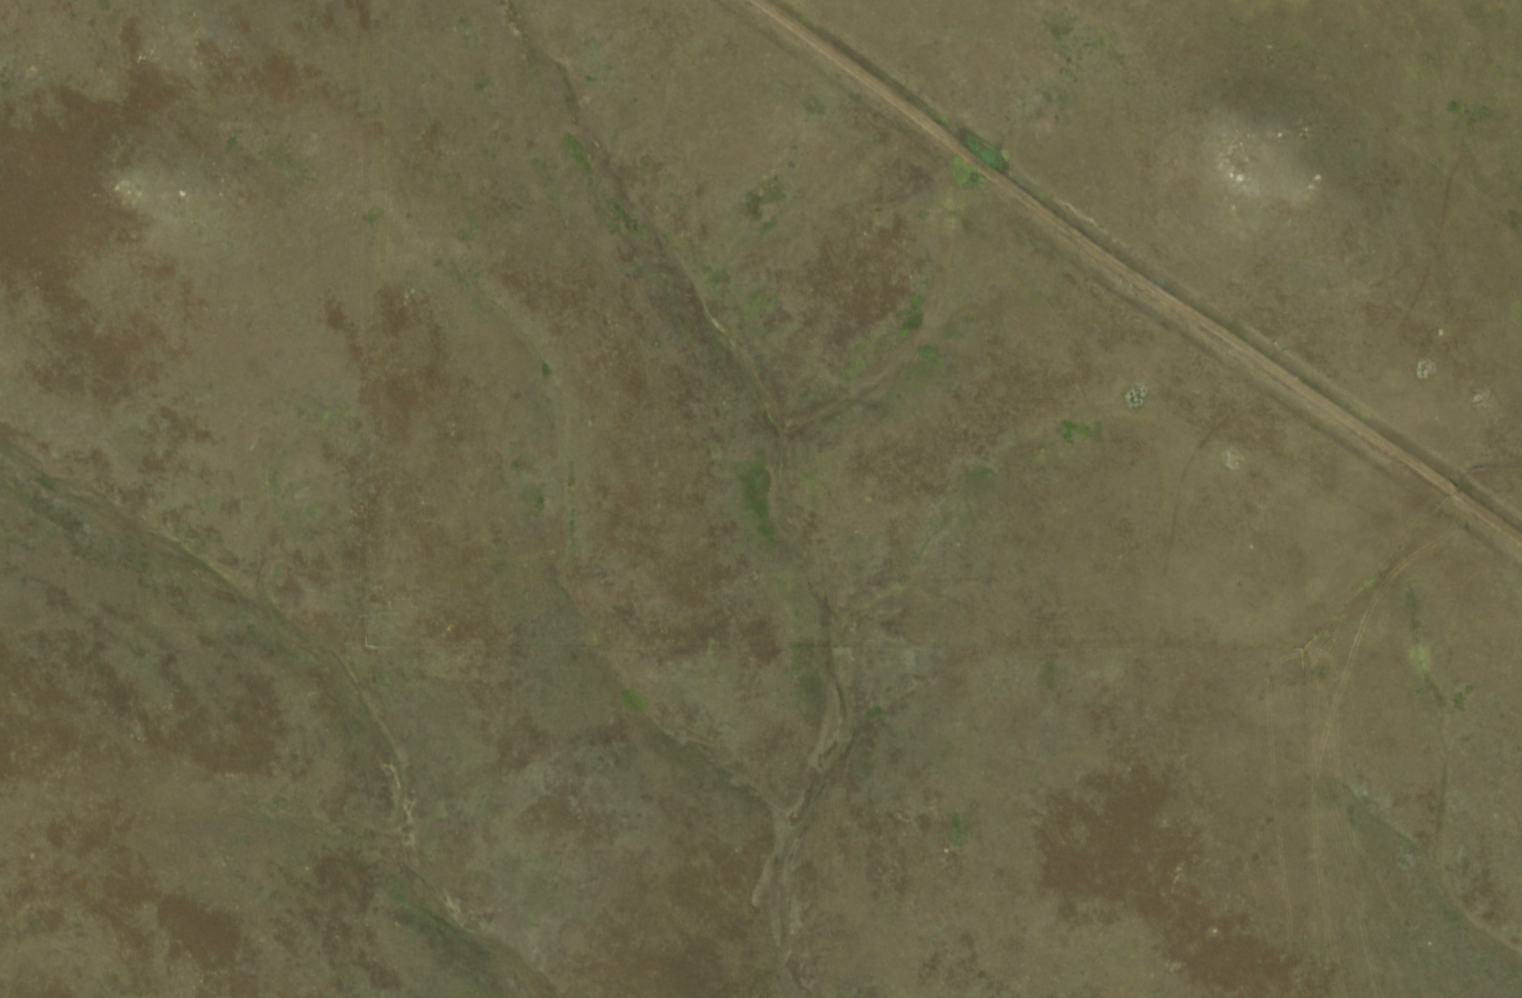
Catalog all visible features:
road: (1122, 275)

